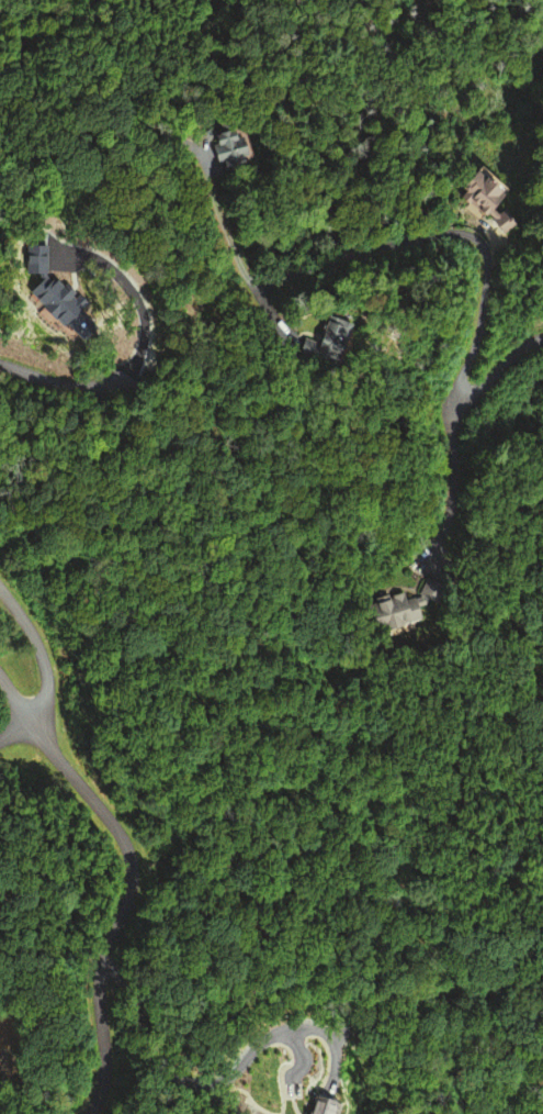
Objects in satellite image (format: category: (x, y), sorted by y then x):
building: (225, 149)
building: (477, 190)
road: (216, 209)
building: (498, 223)
road: (422, 236)
building: (324, 343)
road: (497, 370)
road: (53, 382)
road: (451, 476)
building: (396, 609)
road: (42, 658)
road: (13, 699)
road: (127, 889)

